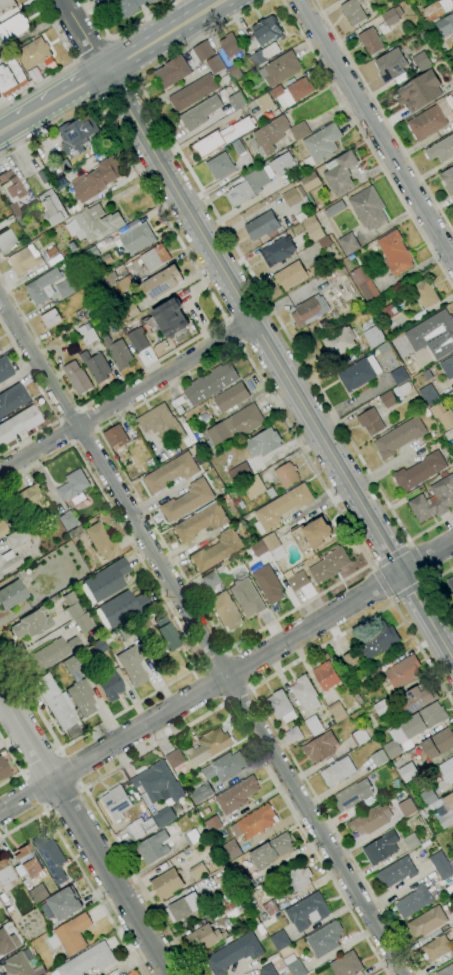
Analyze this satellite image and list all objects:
building: (6, 4)
building: (129, 8)
building: (436, 11)
building: (353, 12)
building: (390, 19)
building: (445, 26)
building: (13, 28)
road: (124, 31)
road: (152, 31)
building: (263, 33)
road: (85, 35)
building: (424, 37)
road: (175, 38)
building: (370, 41)
building: (230, 45)
road: (89, 47)
building: (201, 52)
building: (264, 54)
building: (34, 55)
building: (421, 60)
road: (66, 64)
building: (215, 65)
building: (391, 65)
building: (280, 69)
building: (172, 72)
building: (235, 72)
building: (34, 75)
road: (96, 77)
building: (11, 78)
building: (227, 79)
road: (115, 92)
building: (193, 92)
building: (291, 92)
building: (419, 92)
road: (55, 101)
building: (236, 101)
building: (264, 102)
building: (200, 113)
road: (384, 116)
building: (426, 123)
road: (12, 126)
road: (376, 129)
building: (277, 134)
building: (77, 135)
building: (221, 137)
road: (367, 144)
building: (321, 145)
building: (238, 147)
building: (441, 150)
building: (282, 163)
building: (220, 166)
building: (340, 173)
building: (43, 177)
building: (96, 180)
building: (310, 181)
building: (447, 181)
building: (247, 186)
building: (10, 189)
building: (293, 196)
building: (52, 208)
building: (368, 208)
building: (334, 209)
building: (300, 217)
building: (21, 218)
building: (94, 225)
building: (262, 226)
building: (313, 228)
building: (137, 238)
road: (176, 238)
building: (6, 242)
building: (324, 242)
building: (348, 244)
building: (278, 251)
building: (51, 252)
building: (395, 253)
building: (92, 255)
building: (154, 257)
building: (25, 260)
road: (246, 269)
building: (313, 270)
building: (291, 275)
building: (116, 281)
building: (164, 282)
building: (363, 283)
building: (48, 287)
building: (425, 293)
building: (132, 311)
building: (309, 311)
building: (389, 311)
building: (85, 313)
building: (51, 318)
building: (171, 318)
road: (254, 322)
building: (151, 324)
building: (113, 327)
road: (231, 333)
building: (88, 334)
building: (433, 334)
building: (373, 336)
building: (138, 340)
building: (340, 341)
road: (38, 343)
road: (240, 345)
building: (160, 347)
building: (384, 348)
building: (118, 352)
building: (96, 366)
building: (448, 367)
building: (5, 369)
building: (359, 373)
building: (399, 376)
building: (77, 377)
building: (210, 383)
building: (405, 389)
building: (428, 394)
building: (452, 394)
road: (126, 396)
building: (231, 397)
building: (12, 398)
building: (388, 399)
road: (46, 400)
building: (179, 410)
road: (67, 414)
building: (442, 415)
road: (90, 417)
building: (204, 417)
building: (160, 421)
building: (371, 421)
building: (19, 424)
building: (236, 425)
building: (452, 427)
road: (65, 432)
building: (116, 436)
road: (84, 437)
building: (399, 437)
building: (263, 443)
building: (451, 444)
building: (203, 448)
building: (238, 471)
building: (170, 472)
building: (419, 472)
building: (286, 474)
building: (73, 487)
building: (253, 487)
building: (270, 492)
building: (24, 498)
building: (434, 499)
building: (188, 500)
building: (241, 505)
building: (281, 508)
building: (67, 520)
building: (201, 522)
building: (3, 528)
building: (312, 535)
building: (16, 538)
building: (246, 538)
building: (102, 541)
building: (273, 546)
building: (258, 548)
building: (217, 550)
road: (389, 554)
road: (428, 558)
road: (421, 561)
building: (8, 562)
building: (329, 565)
building: (220, 569)
building: (452, 575)
building: (107, 580)
building: (298, 581)
road: (381, 582)
building: (450, 582)
building: (212, 583)
building: (268, 584)
road: (433, 590)
road: (410, 591)
building: (12, 594)
building: (246, 598)
building: (120, 609)
building: (224, 611)
road: (427, 615)
building: (77, 617)
building: (31, 624)
building: (133, 626)
building: (164, 635)
road: (205, 635)
road: (189, 640)
building: (376, 640)
building: (95, 649)
building: (52, 653)
road: (215, 657)
building: (351, 659)
building: (132, 665)
road: (238, 669)
building: (403, 672)
building: (376, 674)
building: (326, 676)
building: (109, 683)
road: (215, 683)
building: (79, 687)
road: (201, 693)
building: (305, 693)
road: (238, 695)
building: (418, 698)
building: (55, 702)
building: (280, 706)
road: (260, 708)
building: (383, 708)
building: (337, 712)
road: (198, 719)
building: (314, 725)
building: (414, 727)
building: (293, 734)
building: (359, 737)
building: (438, 743)
building: (208, 746)
building: (320, 747)
building: (379, 758)
road: (42, 760)
building: (396, 762)
road: (19, 763)
building: (178, 764)
building: (225, 767)
road: (72, 768)
building: (4, 769)
building: (338, 771)
building: (447, 771)
building: (408, 772)
building: (158, 783)
road: (34, 790)
building: (201, 793)
building: (237, 795)
building: (352, 795)
building: (428, 797)
road: (64, 799)
building: (116, 802)
building: (407, 808)
building: (424, 811)
building: (372, 819)
building: (255, 822)
building: (149, 823)
building: (212, 824)
road: (84, 831)
building: (222, 832)
building: (192, 837)
building: (410, 841)
building: (213, 843)
building: (425, 844)
building: (153, 847)
building: (381, 848)
building: (230, 850)
building: (271, 851)
building: (51, 859)
building: (28, 862)
building: (217, 864)
building: (441, 865)
road: (80, 869)
building: (200, 871)
building: (396, 872)
building: (5, 875)
building: (242, 879)
building: (294, 879)
building: (167, 883)
building: (228, 887)
building: (39, 894)
building: (414, 901)
building: (61, 906)
building: (184, 907)
building: (270, 908)
building: (307, 911)
building: (427, 922)
building: (70, 935)
building: (203, 938)
building: (324, 940)
building: (280, 941)
building: (7, 942)
building: (436, 948)
building: (234, 953)
building: (451, 953)
building: (88, 960)
building: (18, 963)
building: (346, 965)
building: (294, 966)
building: (39, 970)
building: (267, 970)
building: (446, 970)
building: (286, 972)
building: (120, 974)
building: (124, 974)

